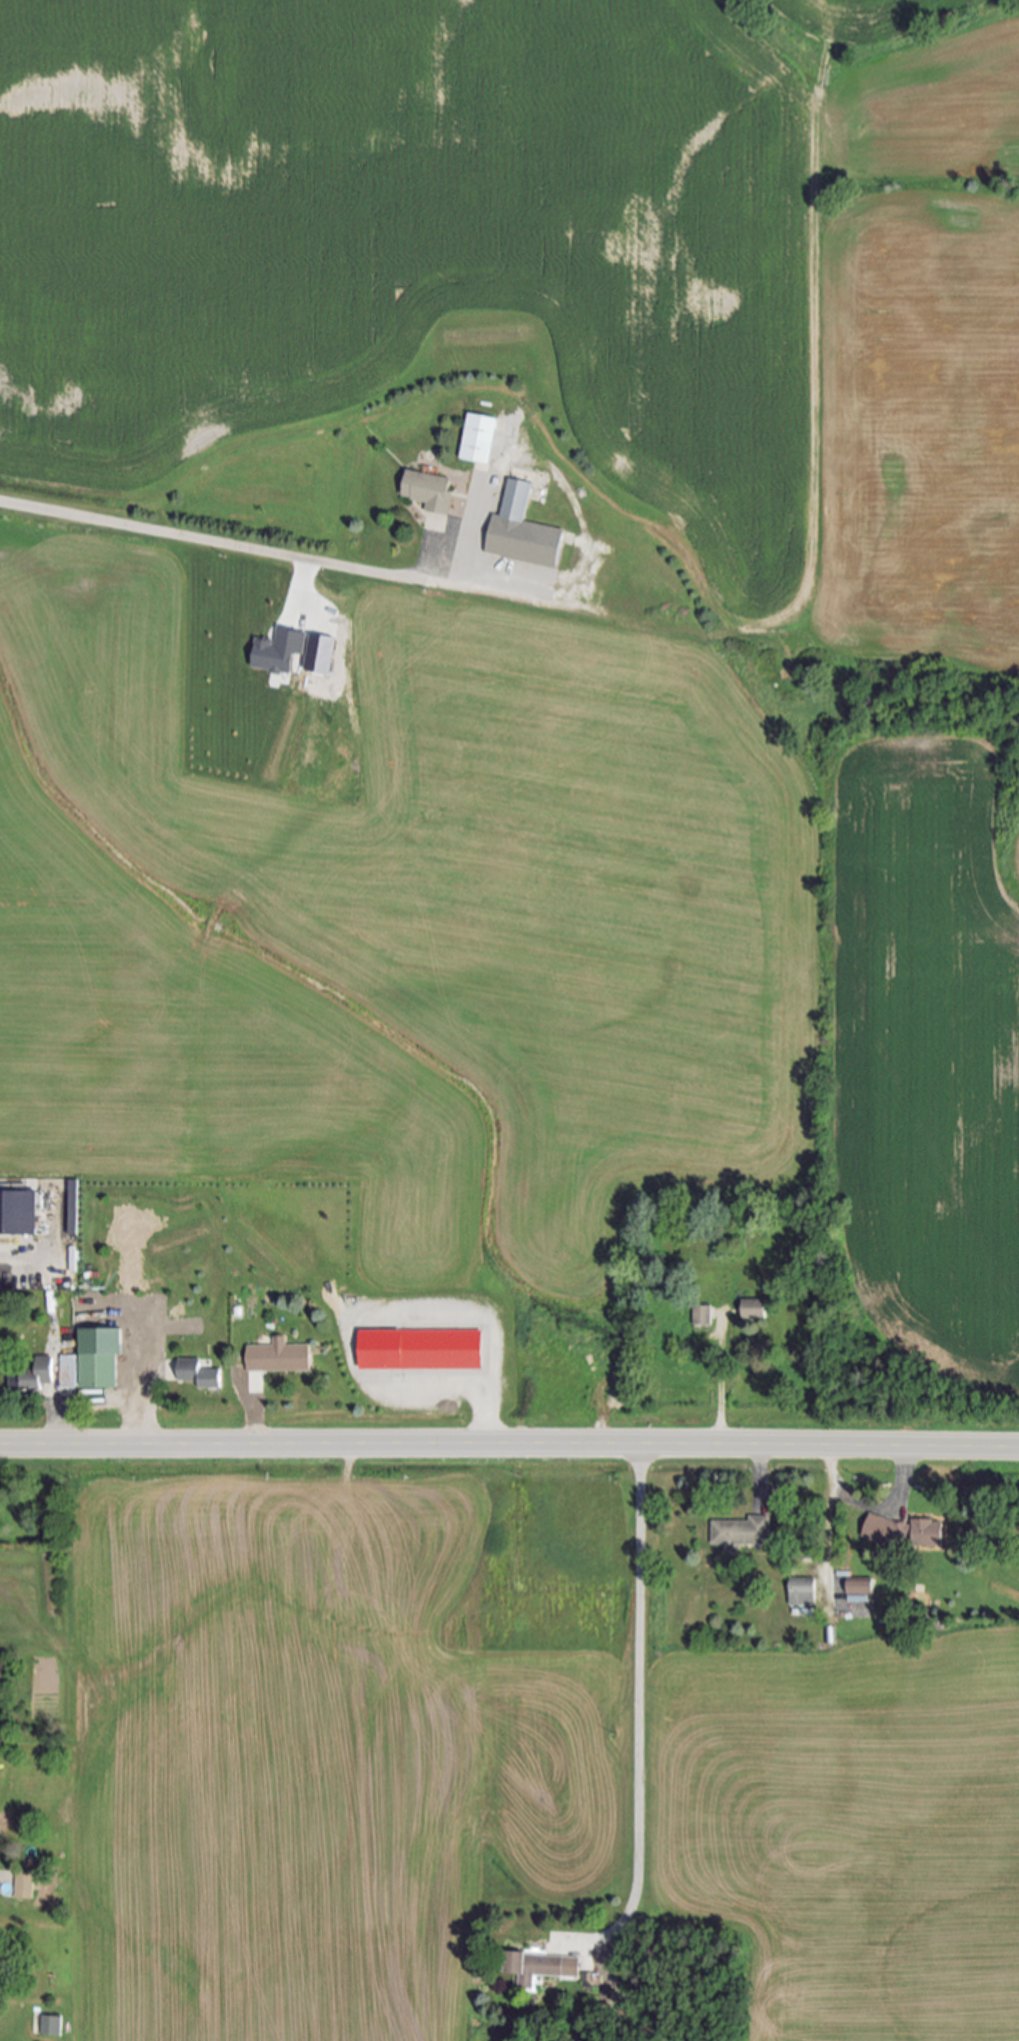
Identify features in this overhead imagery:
crop: (856, 17)
crop: (541, 270)
building: (478, 439)
building: (429, 490)
building: (522, 531)
road: (219, 544)
building: (278, 650)
building: (322, 653)
crop: (1016, 859)
crop: (503, 948)
building: (8, 1212)
building: (754, 1310)
building: (702, 1316)
road: (55, 1332)
building: (424, 1349)
building: (279, 1357)
building: (69, 1371)
building: (100, 1372)
building: (194, 1373)
building: (34, 1379)
road: (721, 1386)
road: (148, 1390)
road: (254, 1417)
road: (509, 1445)
road: (760, 1474)
road: (871, 1508)
building: (742, 1532)
building: (906, 1534)
building: (860, 1589)
building: (802, 1594)
road: (639, 1691)
crop: (336, 1733)
crop: (848, 1827)
building: (25, 1887)
building: (541, 1969)
building: (47, 2025)

